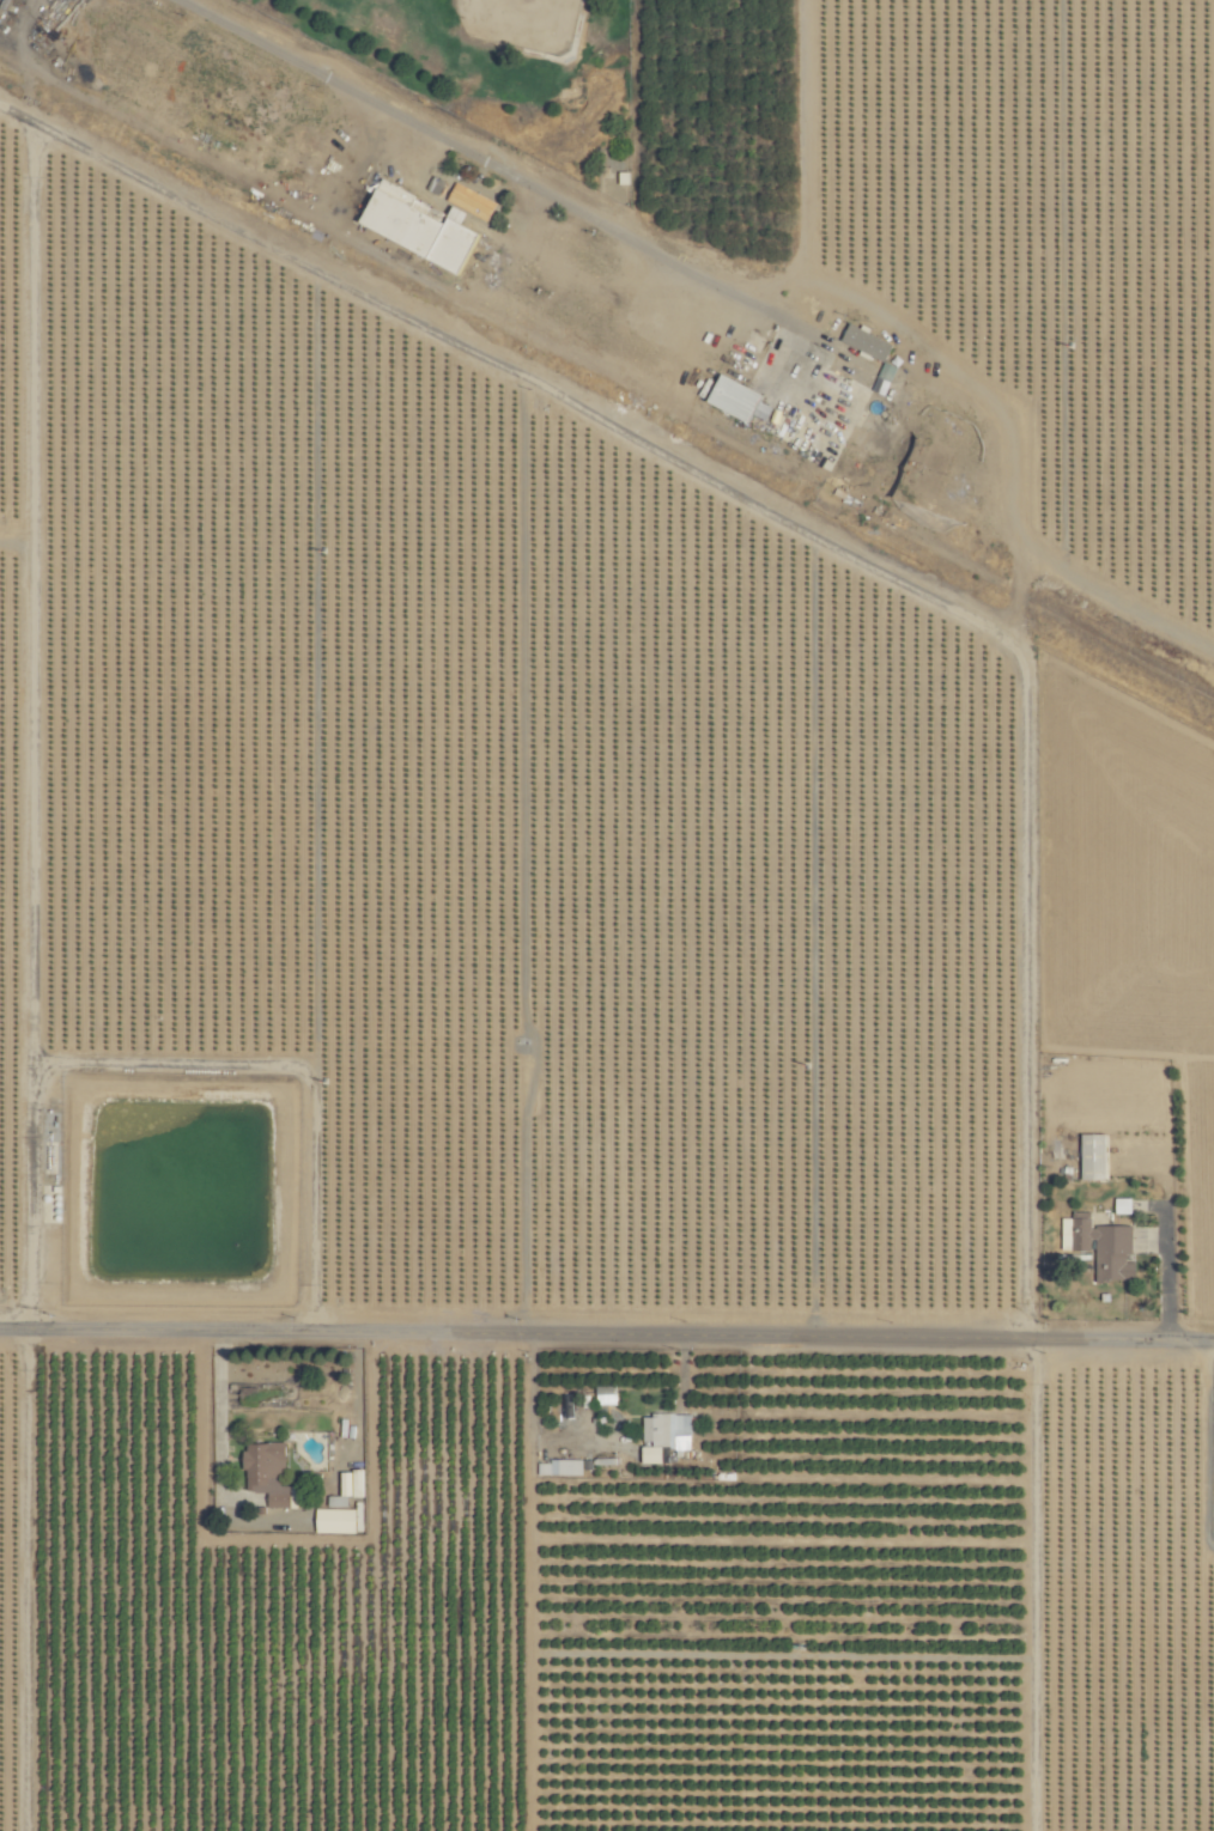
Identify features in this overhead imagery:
road: (433, 138)
crop: (965, 214)
building: (861, 341)
building: (727, 396)
crop: (1122, 616)
crop: (514, 1123)
building: (1087, 1156)
building: (1103, 1247)
road: (1163, 1277)
road: (606, 1336)
building: (605, 1395)
building: (661, 1435)
road: (1208, 1442)
building: (567, 1467)
building: (271, 1473)
road: (1212, 1473)
building: (342, 1505)

